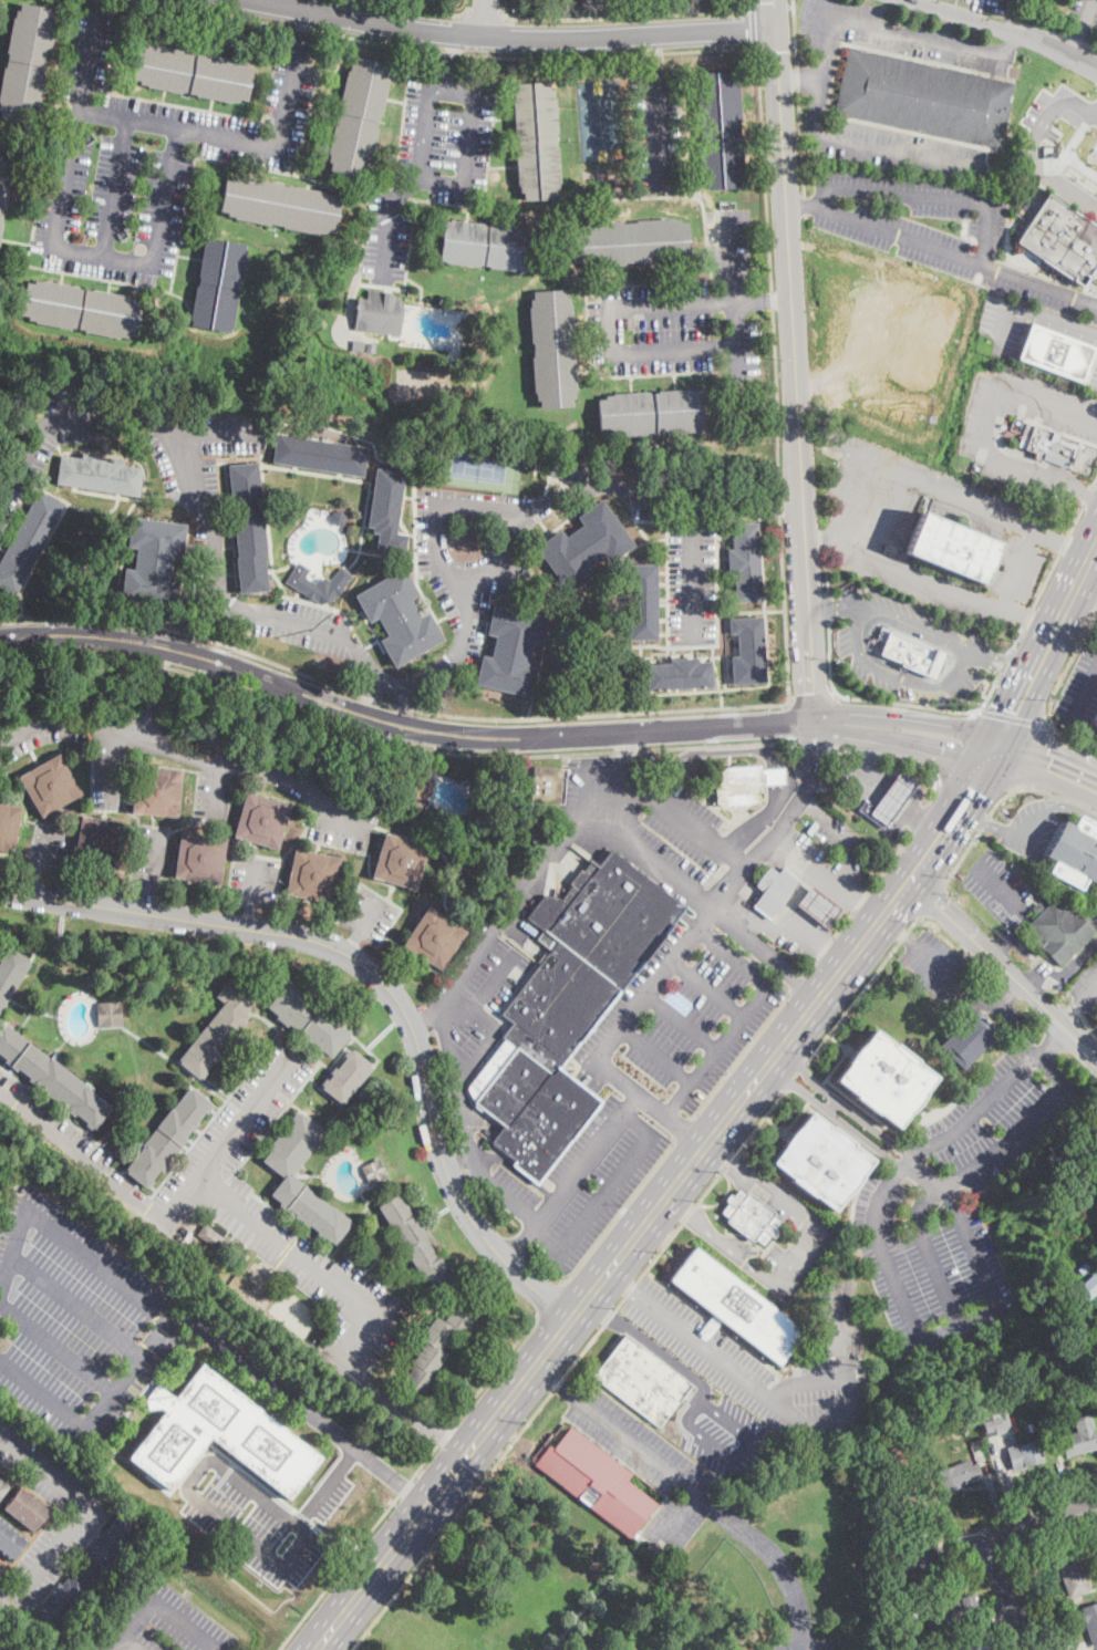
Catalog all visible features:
road: (100, 3)
road: (304, 4)
road: (749, 4)
road: (773, 6)
road: (418, 9)
parking lot: (1084, 9)
road: (1086, 11)
road: (485, 13)
road: (487, 17)
road: (624, 18)
road: (1042, 23)
road: (752, 27)
road: (1005, 30)
road: (905, 31)
road: (299, 34)
road: (513, 35)
road: (1078, 37)
road: (1077, 39)
road: (1010, 43)
road: (1094, 44)
road: (776, 46)
road: (651, 51)
road: (454, 52)
road: (452, 61)
building: (27, 63)
building: (193, 73)
road: (799, 81)
parking lot: (819, 92)
road: (798, 97)
building: (924, 98)
road: (1095, 112)
parking lot: (1043, 115)
building: (358, 116)
road: (1095, 116)
parking lot: (658, 127)
road: (659, 128)
building: (720, 129)
road: (220, 135)
road: (469, 141)
building: (536, 141)
road: (831, 142)
road: (1033, 148)
road: (1069, 148)
parking lot: (144, 156)
parking lot: (428, 170)
building: (3, 181)
road: (114, 186)
road: (411, 186)
road: (928, 196)
road: (797, 203)
building: (280, 205)
parking lot: (935, 230)
building: (1062, 240)
building: (630, 242)
road: (54, 245)
building: (486, 246)
road: (953, 256)
building: (218, 284)
road: (733, 295)
road: (762, 301)
building: (81, 309)
parking lot: (680, 310)
road: (1029, 311)
building: (380, 312)
parking lot: (1015, 325)
road: (611, 331)
road: (791, 332)
building: (370, 347)
building: (552, 349)
building: (1056, 353)
road: (774, 375)
parking lot: (1095, 383)
building: (651, 413)
road: (1078, 414)
parking lot: (1066, 421)
road: (985, 432)
road: (211, 433)
building: (1051, 447)
building: (320, 455)
parking lot: (185, 464)
park: (478, 466)
building: (566, 470)
building: (99, 476)
road: (1095, 482)
road: (575, 489)
road: (940, 494)
road: (1087, 496)
road: (1088, 496)
road: (850, 500)
road: (491, 501)
road: (745, 504)
building: (387, 510)
road: (887, 518)
road: (1076, 519)
parking lot: (1010, 523)
building: (248, 527)
building: (28, 540)
road: (818, 540)
road: (1064, 543)
building: (586, 546)
building: (952, 548)
road: (1069, 548)
parking lot: (472, 552)
building: (154, 562)
building: (745, 562)
road: (1018, 571)
road: (691, 572)
road: (216, 577)
road: (921, 577)
road: (1089, 577)
parking lot: (691, 579)
road: (1046, 580)
building: (340, 581)
road: (827, 581)
building: (642, 602)
road: (828, 606)
road: (829, 606)
road: (1026, 616)
building: (399, 618)
road: (1032, 621)
parking lot: (297, 626)
parking lot: (953, 636)
road: (1016, 637)
road: (857, 641)
road: (1047, 645)
road: (867, 646)
building: (511, 651)
building: (748, 651)
building: (911, 651)
road: (974, 653)
road: (1011, 658)
road: (1003, 664)
building: (679, 674)
road: (1002, 679)
road: (157, 686)
road: (983, 687)
road: (1056, 689)
parking lot: (1080, 691)
road: (811, 693)
road: (371, 695)
road: (1085, 695)
road: (815, 699)
road: (884, 701)
road: (940, 702)
road: (403, 703)
road: (389, 704)
traffic signals: (1016, 712)
road: (1013, 718)
building: (1095, 719)
road: (907, 723)
road: (400, 726)
building: (199, 733)
road: (955, 739)
road: (793, 740)
road: (625, 743)
road: (813, 743)
road: (903, 743)
road: (406, 744)
road: (767, 748)
road: (839, 750)
traffic signals: (942, 751)
road: (186, 753)
road: (865, 753)
road: (861, 756)
road: (1036, 756)
parking lot: (110, 759)
road: (909, 760)
road: (117, 762)
road: (1047, 768)
traffic signals: (1047, 768)
road: (776, 778)
road: (900, 779)
road: (768, 780)
road: (973, 780)
road: (587, 782)
building: (744, 784)
building: (50, 785)
building: (420, 785)
building: (547, 786)
road: (935, 786)
traffic signals: (971, 788)
gas station: (881, 790)
building: (156, 791)
road: (884, 792)
road: (222, 793)
road: (623, 795)
road: (1001, 797)
road: (1060, 797)
parking lot: (324, 799)
building: (888, 801)
road: (878, 805)
road: (1051, 805)
road: (952, 813)
parking lot: (628, 818)
road: (921, 818)
building: (261, 821)
road: (685, 821)
road: (924, 821)
parking lot: (687, 823)
road: (784, 823)
road: (984, 823)
road: (835, 824)
road: (987, 824)
building: (9, 828)
parking lot: (1031, 831)
building: (100, 842)
parking lot: (49, 847)
road: (42, 848)
parking lot: (824, 851)
building: (1075, 852)
road: (648, 857)
parking lot: (151, 858)
building: (199, 858)
road: (962, 858)
road: (155, 861)
building: (401, 861)
road: (891, 862)
road: (816, 870)
building: (311, 875)
gas station: (814, 879)
parking lot: (253, 881)
road: (37, 883)
road: (253, 883)
parking lot: (996, 888)
building: (774, 890)
road: (1004, 891)
road: (861, 900)
road: (932, 901)
road: (148, 903)
building: (818, 906)
road: (511, 910)
road: (870, 911)
road: (787, 912)
parking lot: (368, 915)
road: (368, 916)
road: (248, 919)
road: (844, 924)
road: (806, 930)
road: (896, 930)
building: (1059, 930)
road: (1010, 935)
building: (433, 938)
parking lot: (796, 941)
road: (351, 944)
road: (825, 947)
road: (767, 951)
road: (837, 954)
road: (733, 956)
road: (813, 963)
road: (1069, 965)
road: (1004, 967)
road: (942, 969)
building: (10, 972)
parking lot: (944, 973)
road: (1034, 978)
road: (799, 979)
road: (383, 982)
road: (653, 984)
road: (707, 987)
road: (863, 987)
parking lot: (1086, 990)
road: (479, 996)
road: (1088, 996)
parking lot: (478, 998)
road: (1000, 1003)
building: (567, 1007)
road: (1007, 1011)
building: (108, 1014)
road: (1070, 1014)
building: (309, 1019)
road: (682, 1020)
road: (425, 1021)
building: (218, 1028)
road: (494, 1034)
building: (969, 1038)
road: (1052, 1042)
road: (716, 1049)
road: (739, 1052)
road: (655, 1054)
road: (804, 1065)
road: (796, 1076)
building: (51, 1077)
building: (346, 1077)
road: (615, 1077)
building: (886, 1078)
parking lot: (644, 1081)
road: (788, 1085)
road: (458, 1097)
road: (841, 1103)
road: (832, 1104)
road: (473, 1112)
road: (836, 1115)
road: (670, 1120)
road: (639, 1122)
road: (683, 1130)
building: (168, 1137)
road: (597, 1146)
road: (727, 1156)
road: (458, 1159)
building: (821, 1161)
road: (518, 1169)
building: (373, 1171)
road: (897, 1172)
road: (923, 1174)
road: (962, 1177)
building: (290, 1182)
road: (602, 1196)
road: (724, 1197)
parking lot: (238, 1200)
parking lot: (953, 1200)
road: (619, 1214)
building: (749, 1216)
road: (690, 1218)
road: (168, 1221)
road: (531, 1222)
road: (530, 1231)
parking lot: (782, 1237)
building: (415, 1243)
building: (222, 1244)
road: (972, 1246)
road: (12, 1251)
road: (801, 1252)
road: (99, 1265)
road: (612, 1265)
road: (311, 1268)
building: (1084, 1268)
road: (622, 1281)
building: (1087, 1289)
road: (549, 1299)
road: (79, 1304)
building: (735, 1307)
parking lot: (837, 1315)
parking lot: (77, 1316)
road: (959, 1325)
building: (1093, 1339)
road: (651, 1346)
road: (56, 1347)
building: (435, 1347)
road: (717, 1357)
road: (568, 1369)
road: (132, 1370)
parking lot: (759, 1374)
road: (550, 1381)
building: (641, 1381)
road: (845, 1382)
road: (42, 1393)
building: (1078, 1398)
road: (303, 1408)
road: (404, 1412)
building: (970, 1416)
building: (995, 1424)
building: (1031, 1428)
building: (219, 1433)
building: (1079, 1436)
parking lot: (731, 1439)
road: (640, 1446)
building: (975, 1446)
building: (1024, 1454)
road: (739, 1463)
parking lot: (645, 1464)
road: (196, 1469)
building: (958, 1474)
road: (1066, 1474)
building: (596, 1481)
road: (1006, 1482)
road: (410, 1483)
building: (2, 1487)
road: (992, 1492)
building: (905, 1495)
building: (25, 1509)
road: (680, 1511)
road: (79, 1513)
parking lot: (260, 1515)
road: (998, 1533)
parking lot: (64, 1535)
road: (905, 1537)
building: (9, 1542)
building: (107, 1544)
road: (773, 1553)
building: (667, 1559)
building: (1073, 1574)
road: (1005, 1594)
road: (898, 1595)
building: (62, 1601)
road: (161, 1604)
road: (1046, 1607)
building: (951, 1610)
building: (1090, 1621)
parking lot: (163, 1622)
building: (901, 1633)
road: (806, 1640)
parking lot: (809, 1641)
road: (134, 1642)
parking lot: (777, 1646)
road: (1077, 1648)

